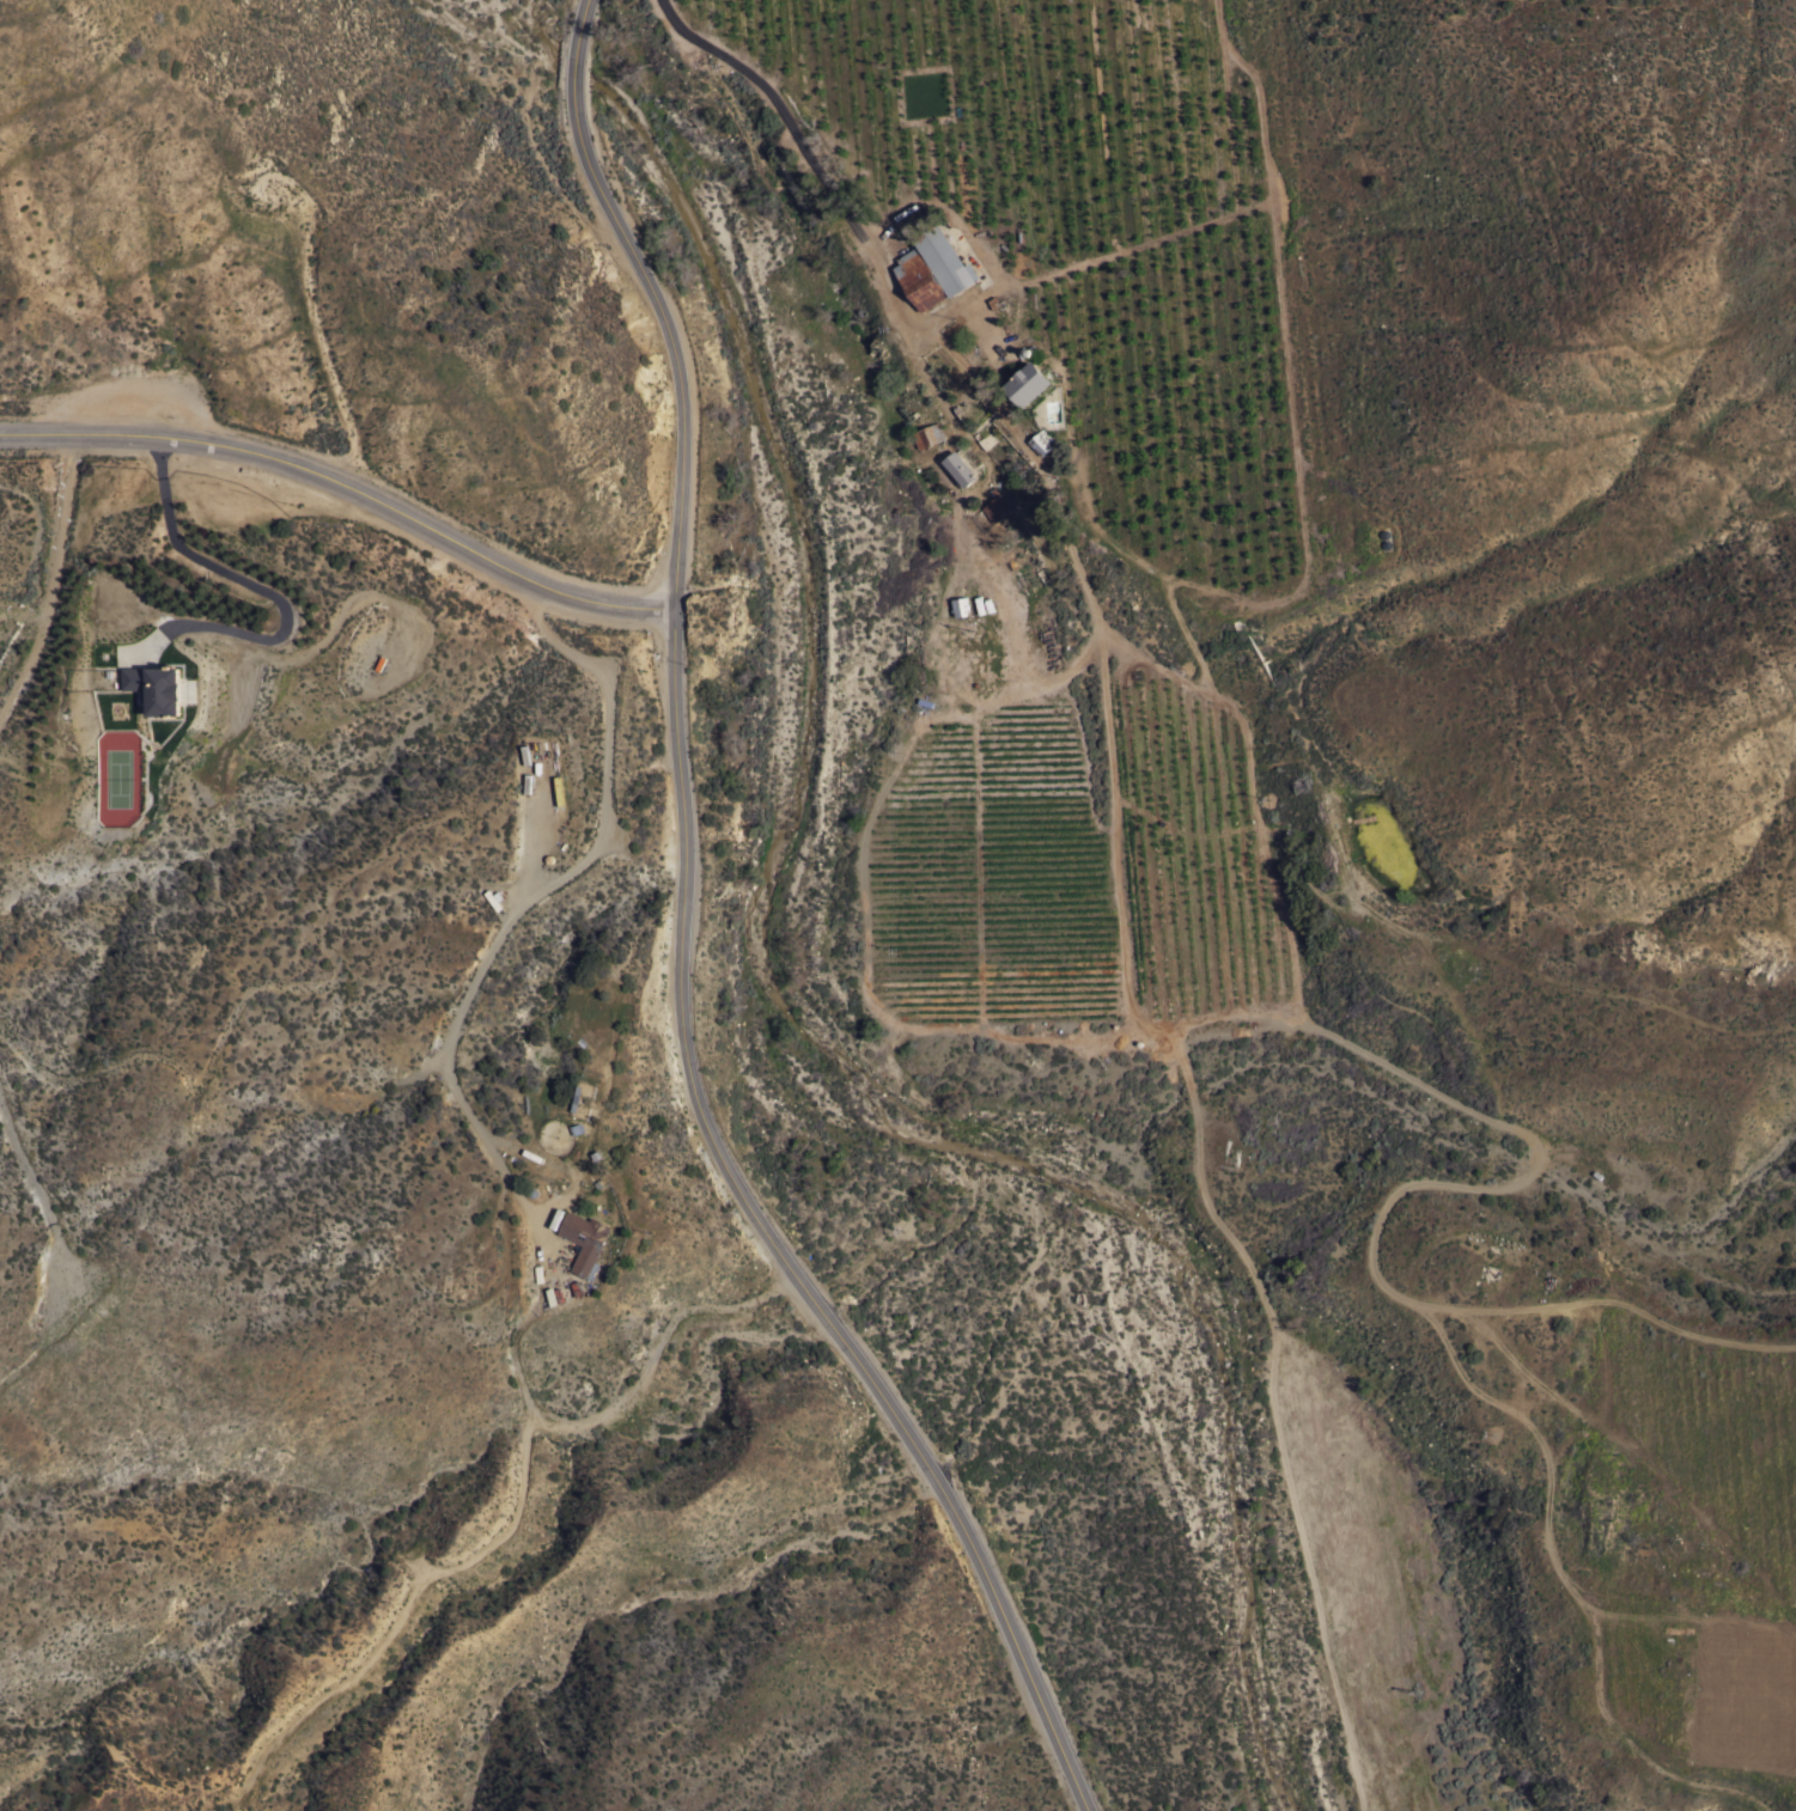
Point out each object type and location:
road: (810, 145)
building: (933, 266)
building: (1028, 383)
road: (939, 407)
building: (927, 434)
building: (1041, 440)
building: (958, 468)
crop: (1211, 481)
road: (349, 488)
building: (996, 505)
road: (263, 592)
building: (960, 605)
road: (1103, 672)
building: (156, 687)
road: (676, 946)
building: (584, 1238)
crop: (1724, 1438)
crop: (1411, 1603)
crop: (1707, 1695)

